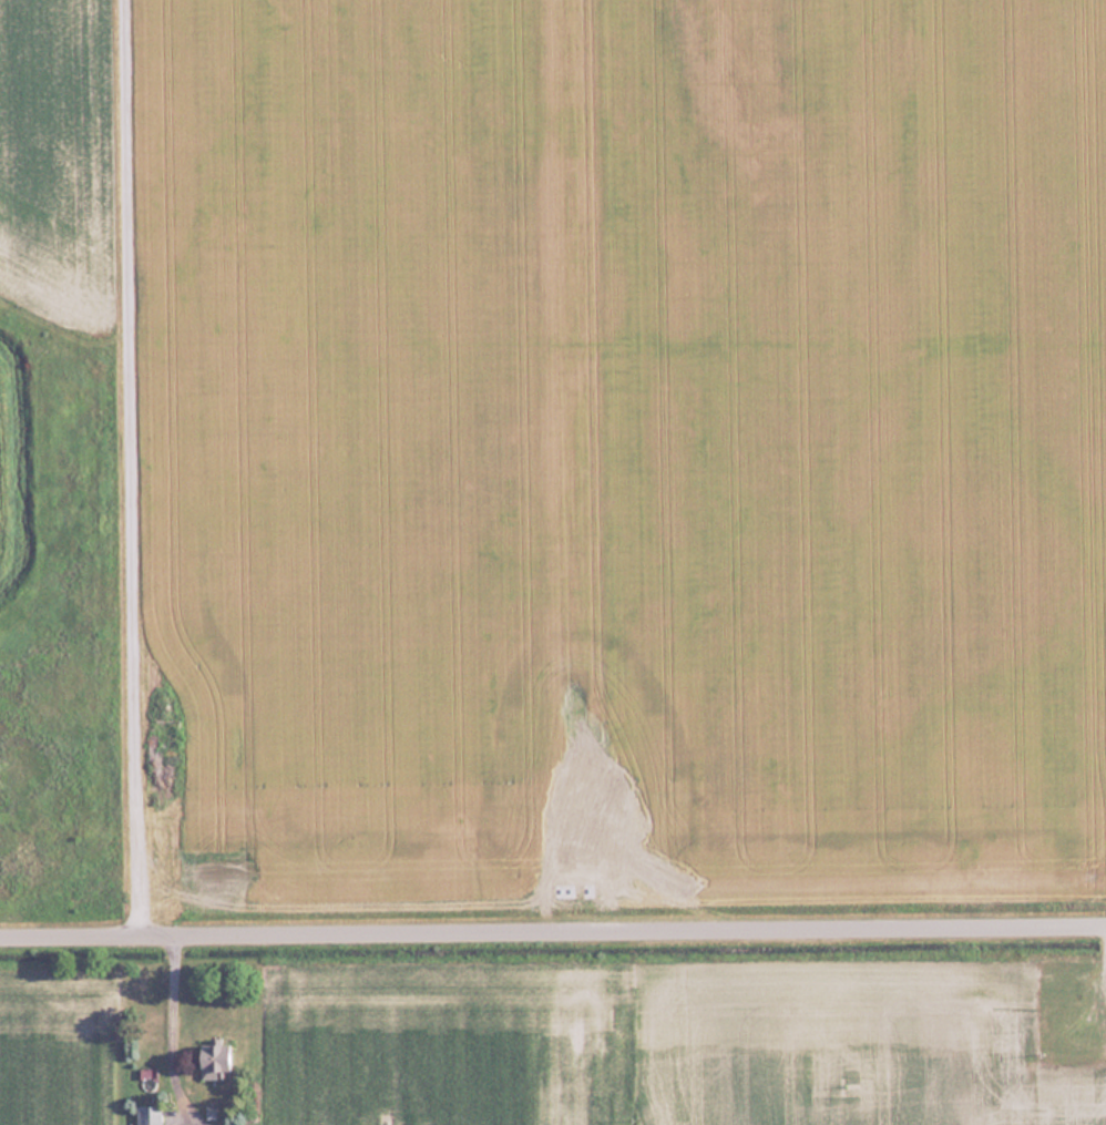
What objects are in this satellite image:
road: (127, 471)
road: (552, 937)
building: (215, 1060)
building: (149, 1115)

